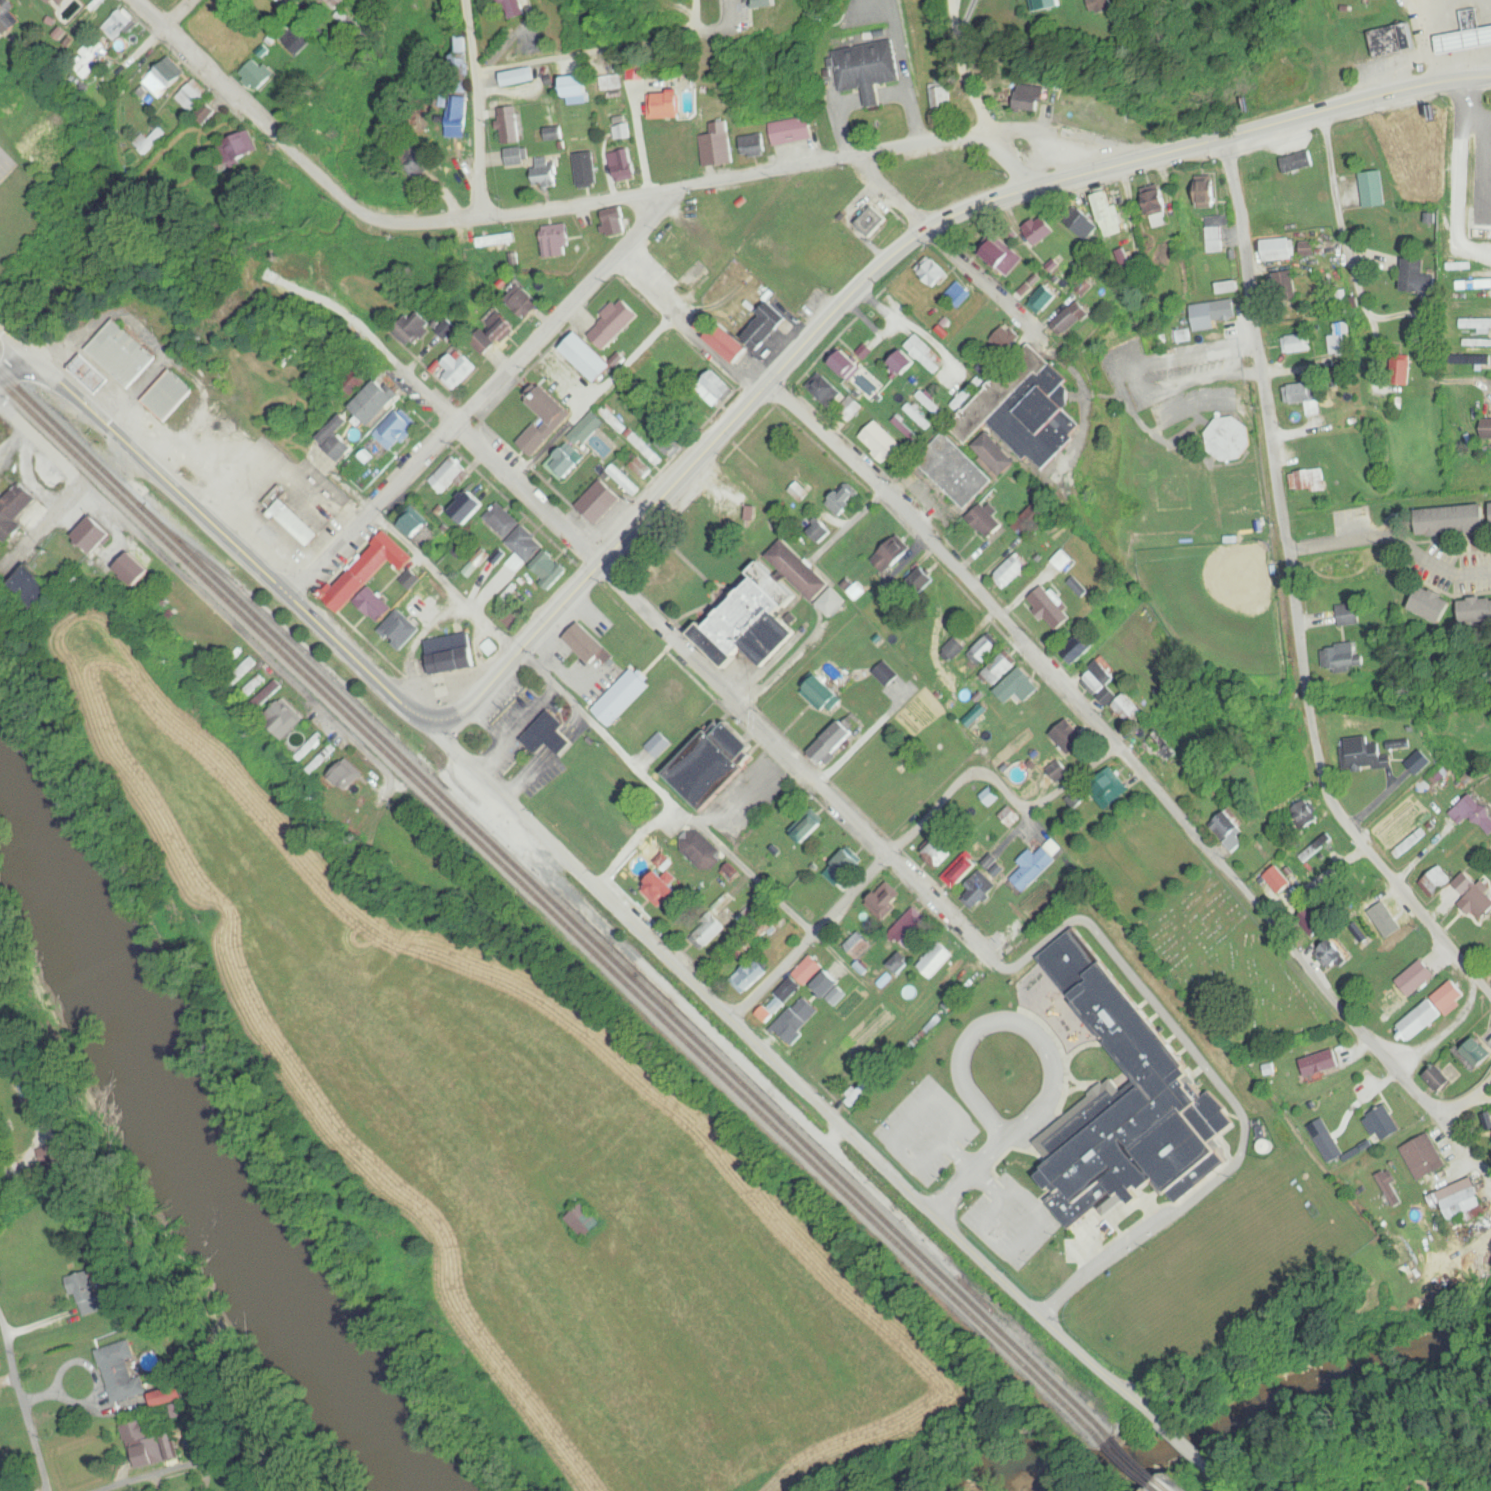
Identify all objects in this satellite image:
building: (674, 0)
building: (59, 3)
building: (341, 3)
building: (517, 8)
building: (2, 10)
road: (178, 14)
building: (117, 25)
road: (332, 28)
road: (1430, 39)
building: (298, 41)
building: (459, 52)
building: (89, 58)
road: (972, 67)
building: (634, 73)
building: (256, 75)
building: (516, 77)
building: (163, 79)
building: (613, 83)
building: (578, 90)
building: (191, 97)
building: (668, 105)
road: (478, 106)
building: (205, 115)
building: (305, 116)
building: (454, 117)
building: (508, 125)
building: (791, 131)
building: (621, 133)
building: (555, 134)
building: (148, 141)
building: (717, 146)
building: (753, 146)
building: (235, 150)
building: (514, 157)
building: (621, 165)
building: (584, 169)
building: (544, 174)
road: (365, 215)
building: (872, 221)
building: (612, 222)
building: (493, 239)
building: (552, 240)
road: (615, 252)
building: (672, 254)
road: (884, 266)
road: (958, 269)
building: (795, 288)
building: (519, 301)
building: (614, 325)
building: (764, 325)
building: (424, 327)
building: (493, 332)
building: (731, 344)
road: (15, 345)
building: (924, 352)
building: (123, 354)
building: (673, 354)
building: (588, 359)
building: (847, 363)
building: (904, 364)
road: (15, 368)
building: (456, 368)
building: (715, 389)
building: (824, 390)
building: (169, 396)
building: (375, 403)
building: (930, 404)
building: (547, 409)
building: (849, 410)
building: (918, 417)
building: (611, 419)
building: (394, 430)
building: (585, 430)
building: (906, 430)
building: (1005, 430)
building: (534, 441)
building: (880, 442)
building: (643, 448)
building: (563, 465)
building: (637, 466)
building: (447, 474)
building: (725, 494)
building: (598, 502)
building: (842, 502)
building: (15, 512)
building: (1034, 520)
building: (500, 521)
building: (989, 521)
building: (413, 522)
building: (296, 524)
building: (820, 530)
building: (95, 533)
road: (1394, 534)
road: (234, 537)
building: (522, 549)
building: (1064, 560)
building: (136, 568)
building: (548, 569)
building: (369, 570)
building: (799, 570)
building: (1011, 572)
building: (412, 579)
building: (921, 580)
road: (1293, 596)
building: (832, 602)
building: (1052, 608)
road: (641, 611)
building: (387, 618)
building: (751, 622)
building: (194, 635)
building: (586, 644)
building: (952, 650)
building: (983, 651)
building: (1079, 651)
building: (452, 655)
building: (247, 666)
building: (1000, 668)
building: (256, 684)
building: (1020, 687)
building: (271, 692)
building: (1111, 692)
building: (826, 693)
building: (621, 698)
building: (285, 719)
building: (975, 722)
building: (549, 735)
building: (1069, 737)
building: (835, 741)
building: (311, 745)
building: (658, 745)
building: (1155, 747)
road: (1130, 761)
building: (713, 763)
road: (384, 766)
building: (1059, 771)
building: (349, 773)
road: (997, 785)
building: (1112, 788)
road: (670, 791)
road: (1344, 796)
building: (990, 797)
building: (809, 825)
building: (1230, 834)
building: (938, 850)
building: (702, 852)
building: (847, 864)
building: (1037, 864)
building: (962, 871)
building: (1279, 880)
building: (978, 889)
railway: (555, 890)
building: (660, 890)
building: (886, 901)
building: (1054, 929)
railway: (583, 930)
building: (912, 930)
building: (710, 931)
railway: (577, 936)
road: (813, 938)
building: (859, 946)
building: (936, 960)
building: (900, 964)
building: (809, 971)
building: (966, 979)
building: (830, 983)
road: (796, 993)
building: (795, 1018)
road: (1438, 1026)
building: (836, 1063)
building: (1296, 1064)
road: (779, 1068)
building: (1072, 1076)
building: (1443, 1077)
road: (1488, 1085)
building: (857, 1096)
building: (1382, 1124)
river: (208, 1137)
road: (1455, 1142)
building: (1328, 1146)
building: (1424, 1157)
building: (1464, 1200)
road: (888, 1262)
building: (87, 1296)
building: (122, 1372)
building: (171, 1396)
road: (25, 1409)
building: (149, 1444)
road: (1178, 1449)
road: (130, 1482)

